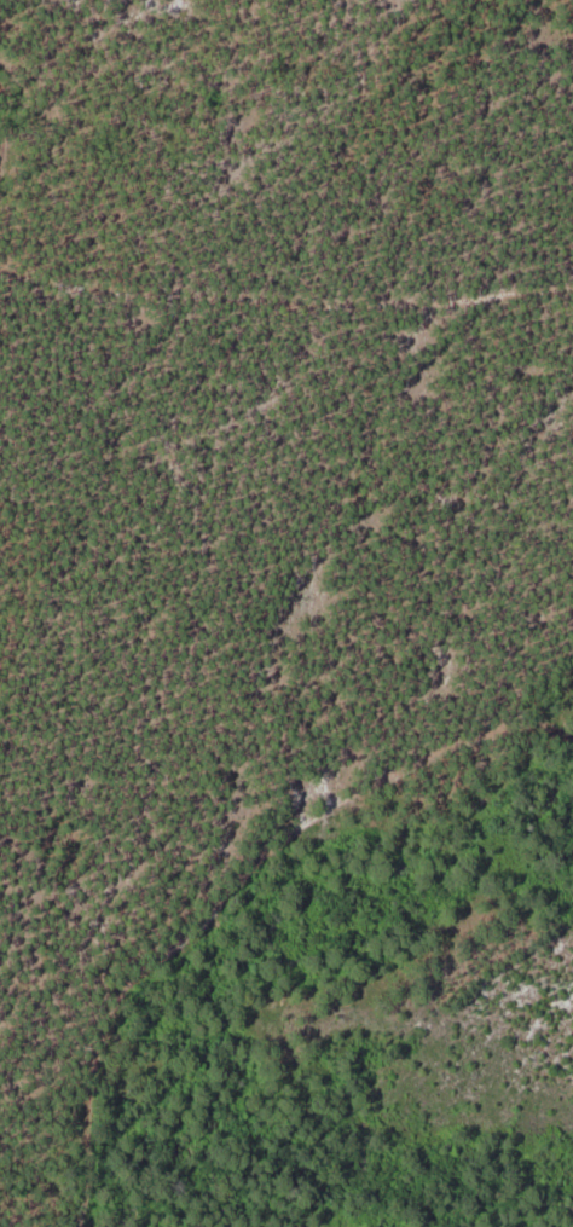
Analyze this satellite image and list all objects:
park: (0, 0)

